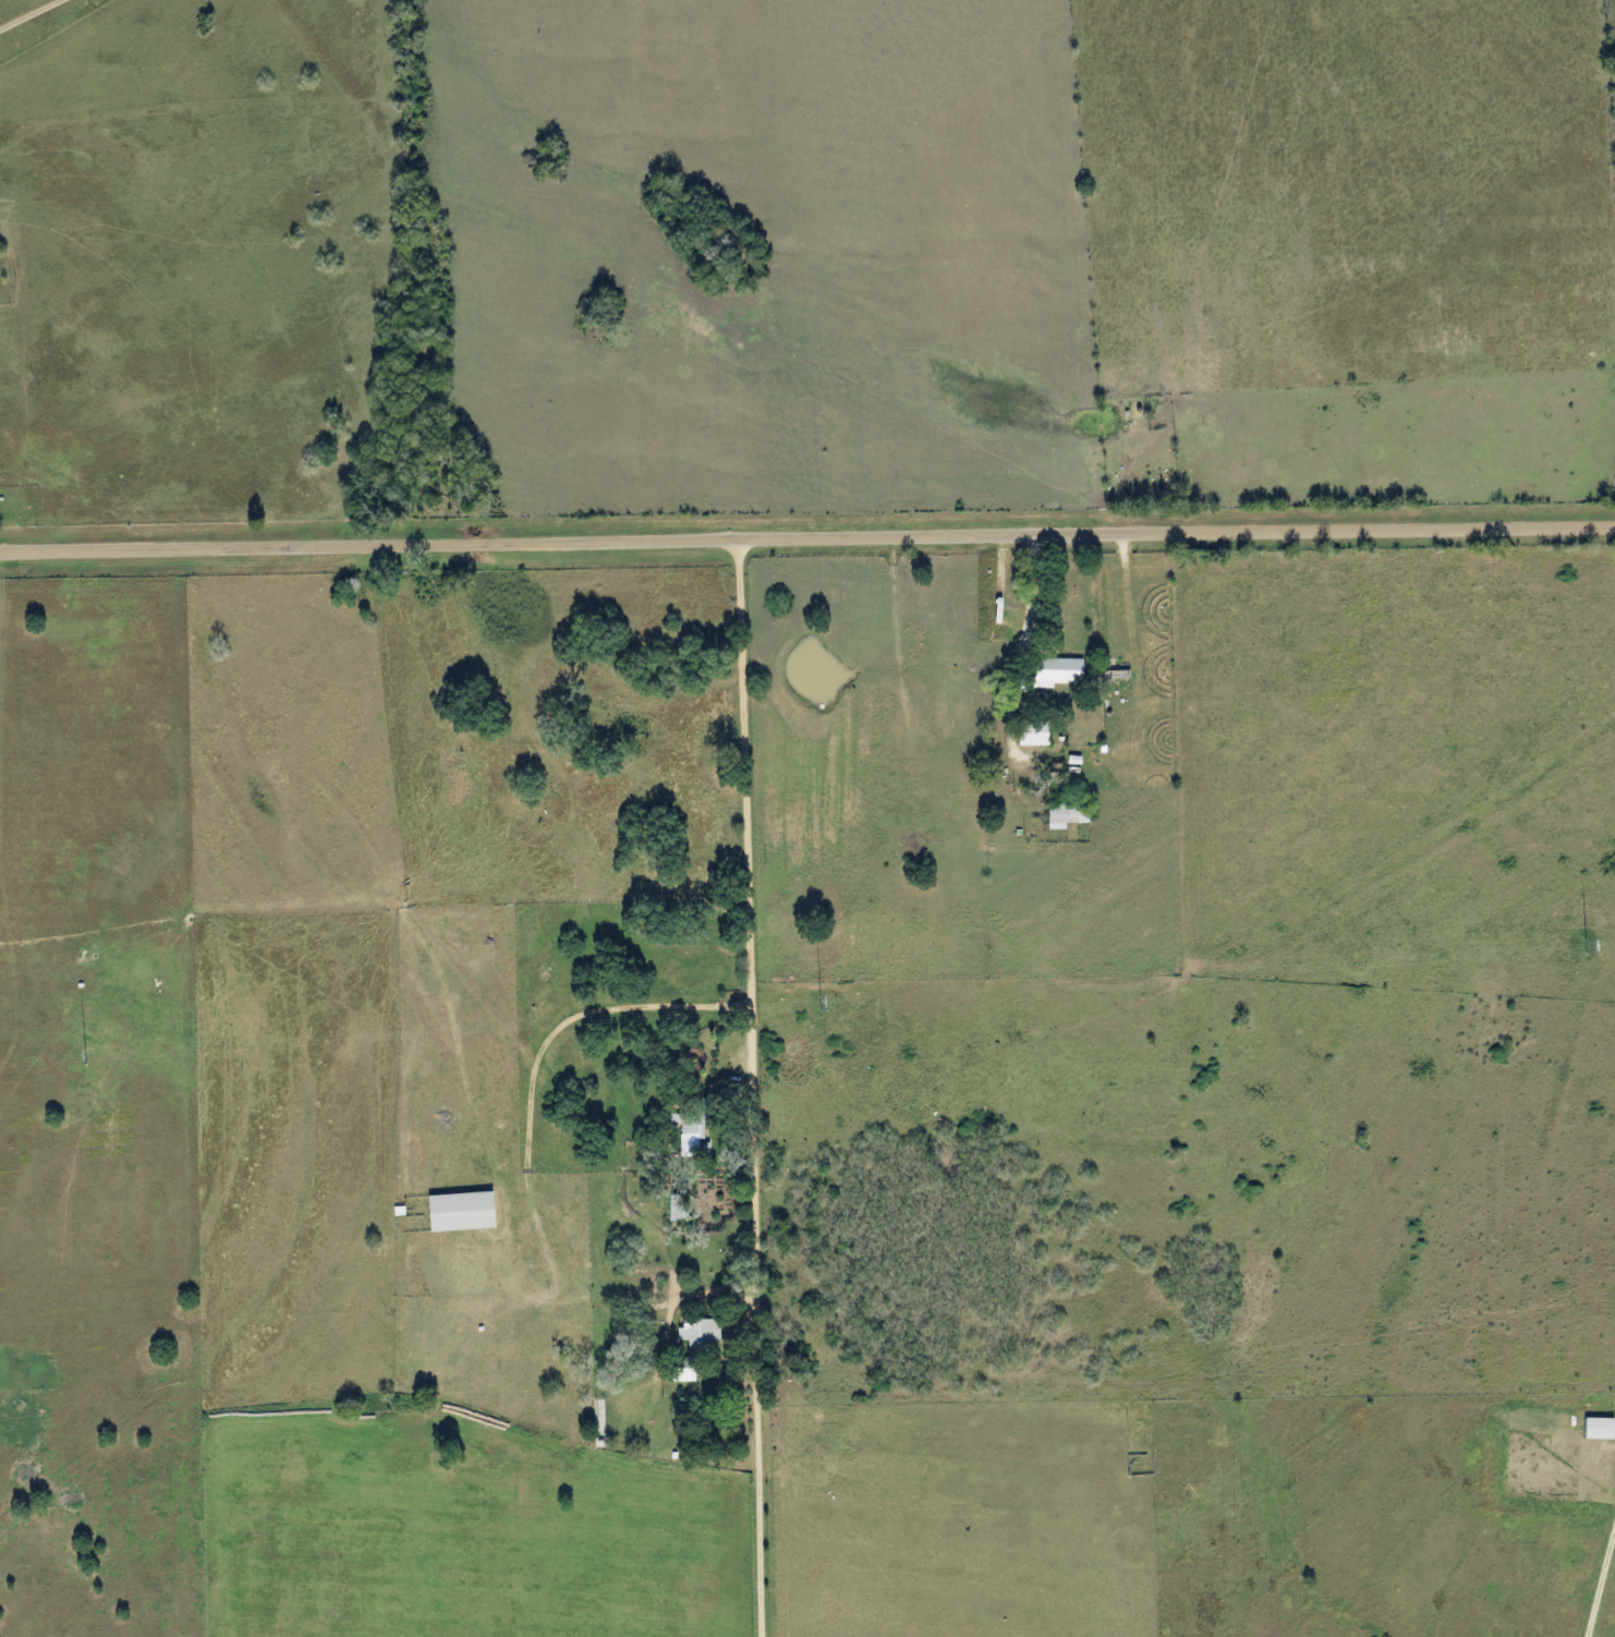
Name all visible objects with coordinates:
road: (806, 534)
building: (1052, 671)
building: (1028, 733)
building: (1062, 814)
road: (750, 922)
power tower: (1582, 947)
power tower: (816, 1004)
power tower: (77, 1057)
building: (685, 1129)
building: (451, 1211)
building: (670, 1214)
building: (694, 1334)
building: (676, 1370)
building: (1592, 1428)

